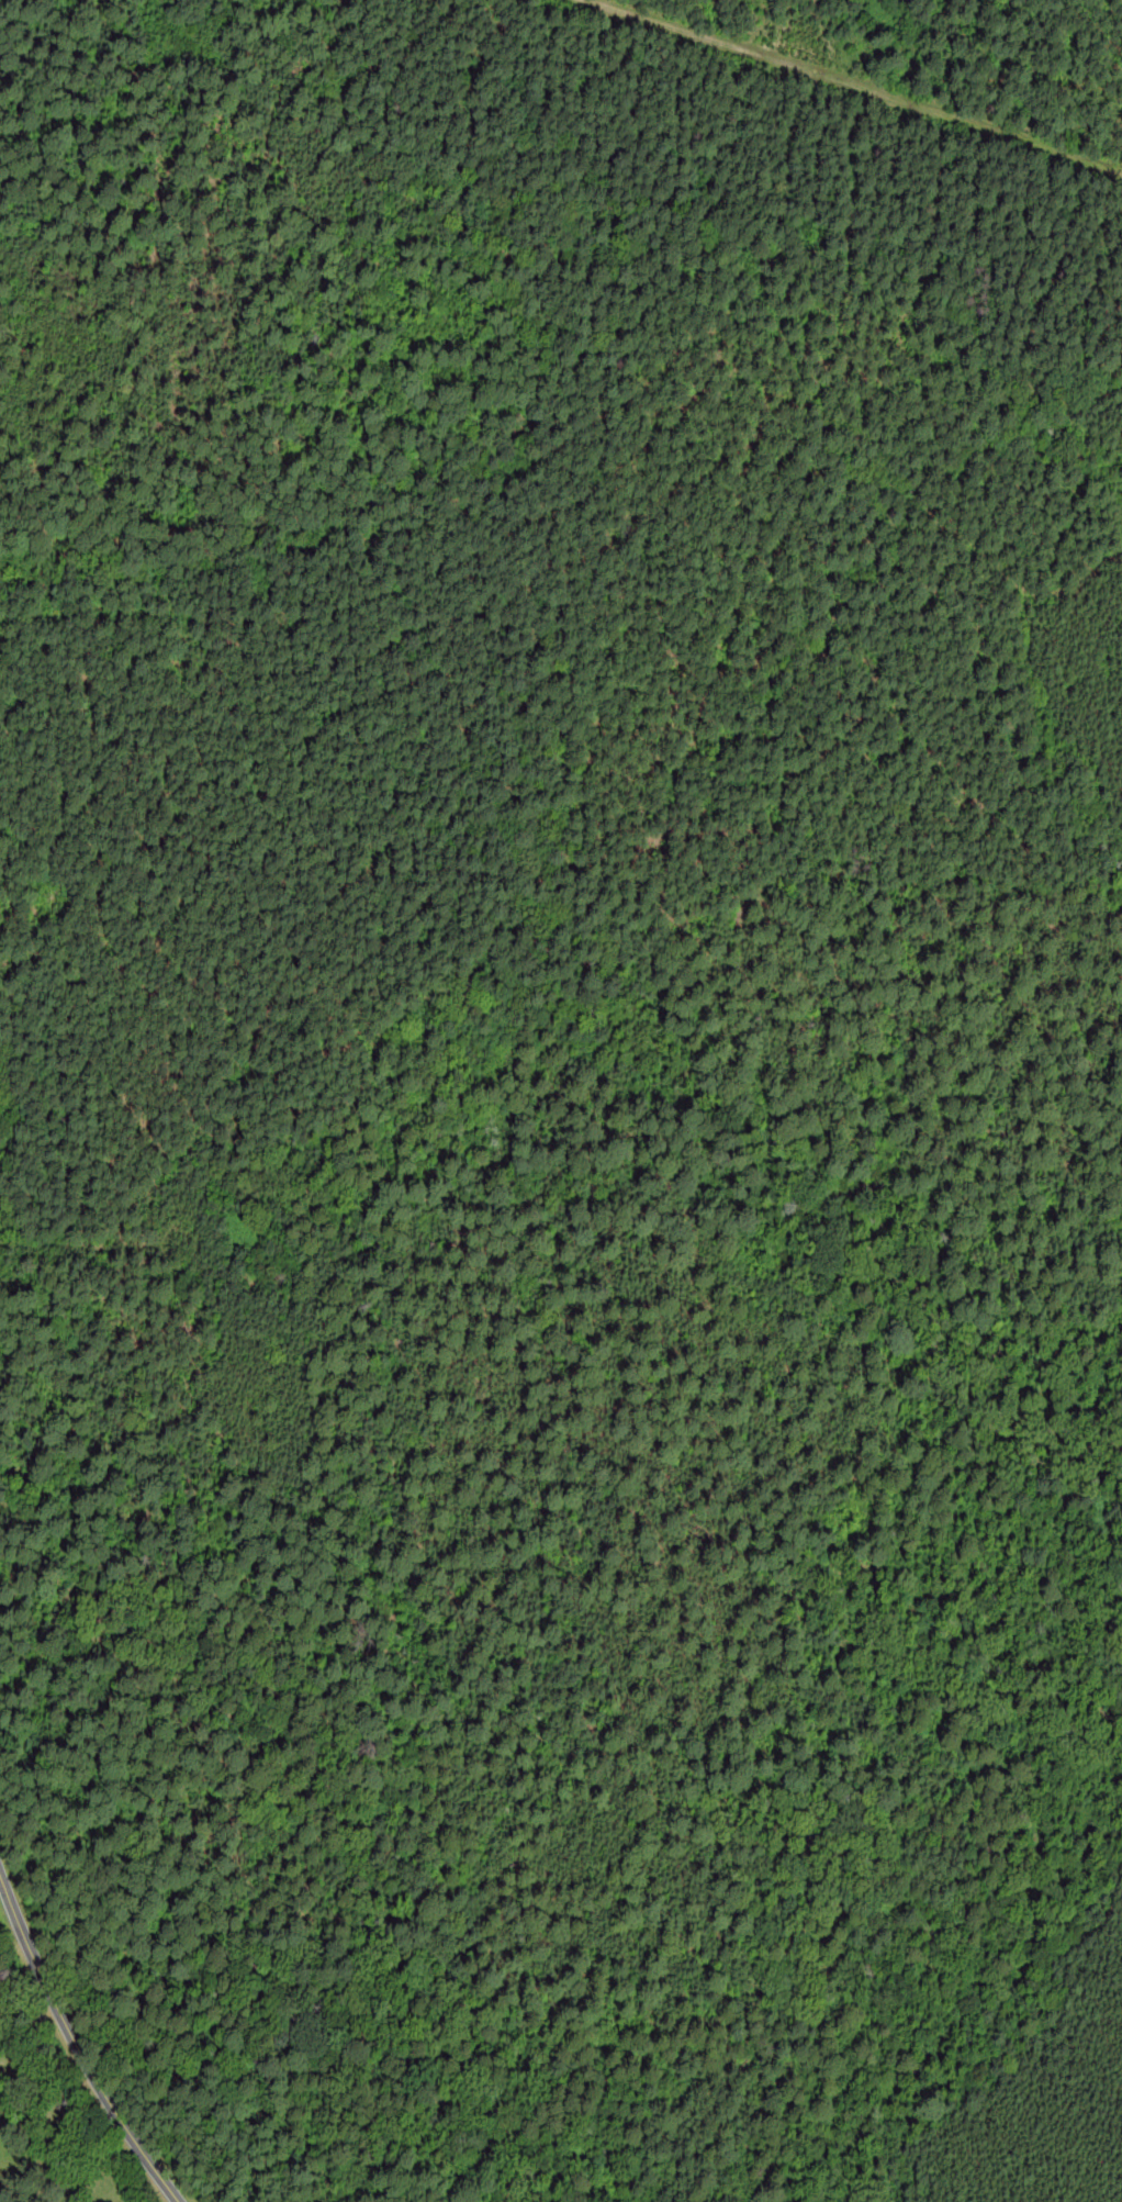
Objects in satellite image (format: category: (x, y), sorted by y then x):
road: (856, 81)
road: (78, 2044)

